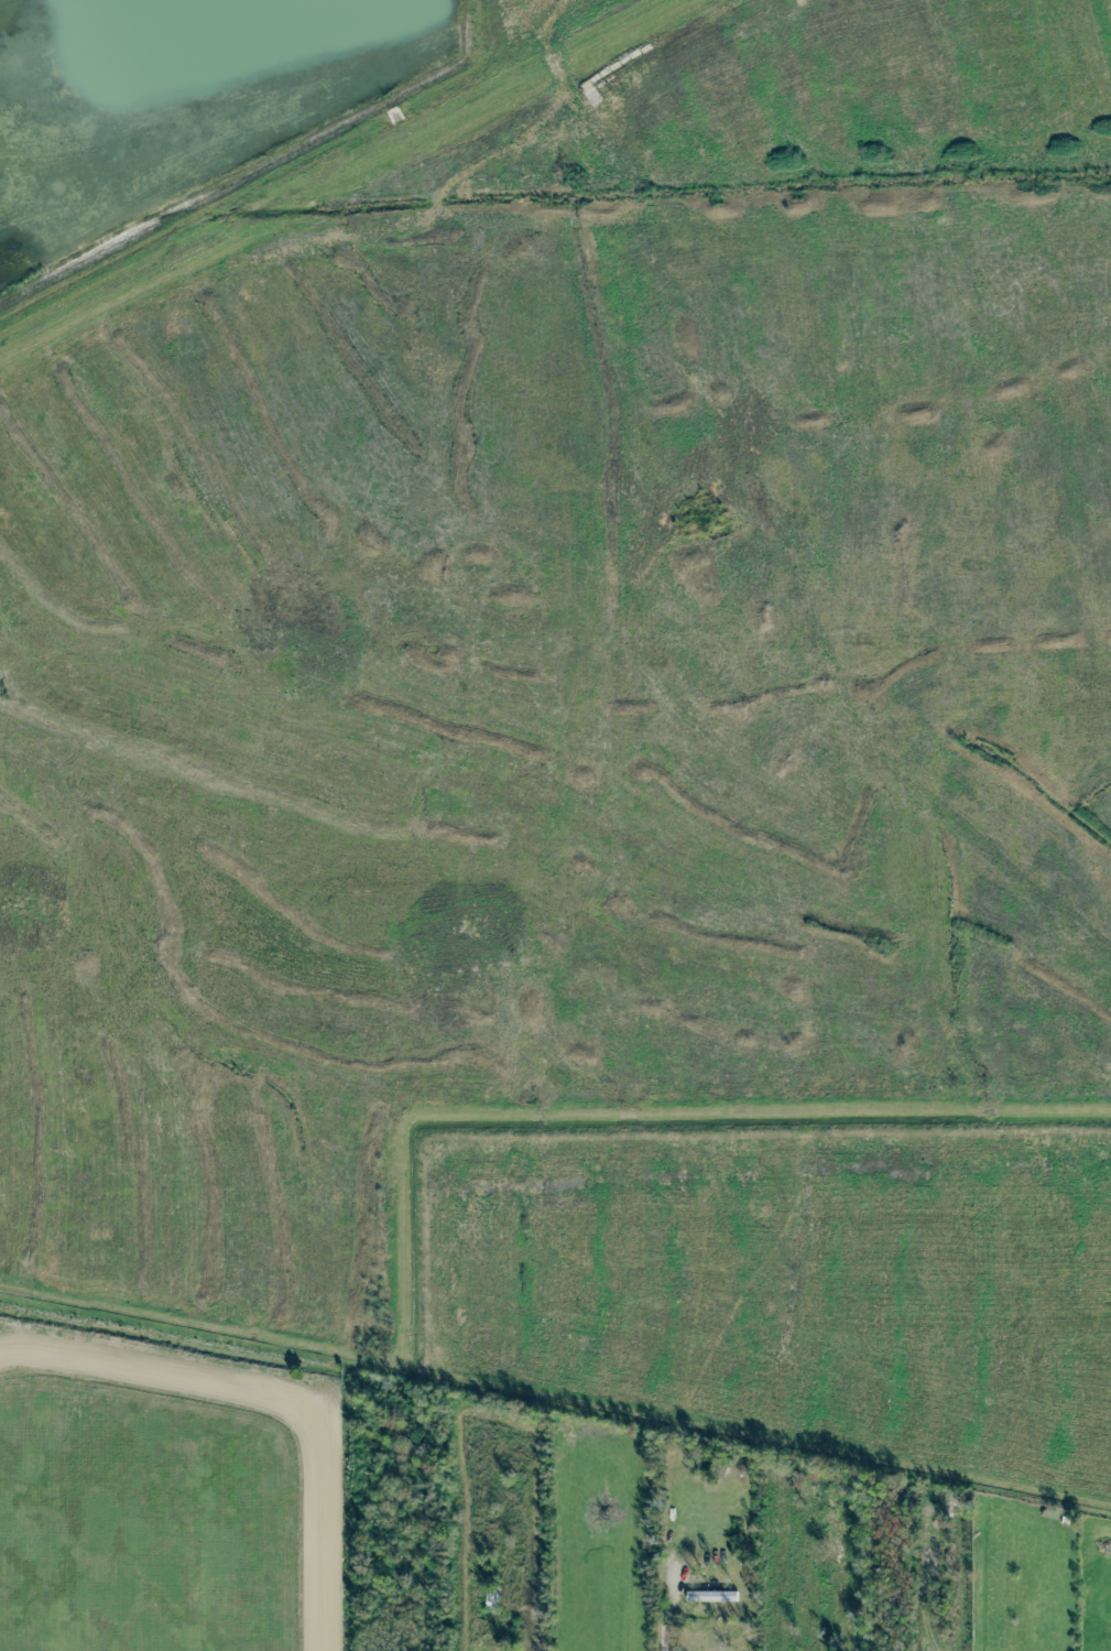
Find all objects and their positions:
building: (711, 1596)
road: (664, 1621)

